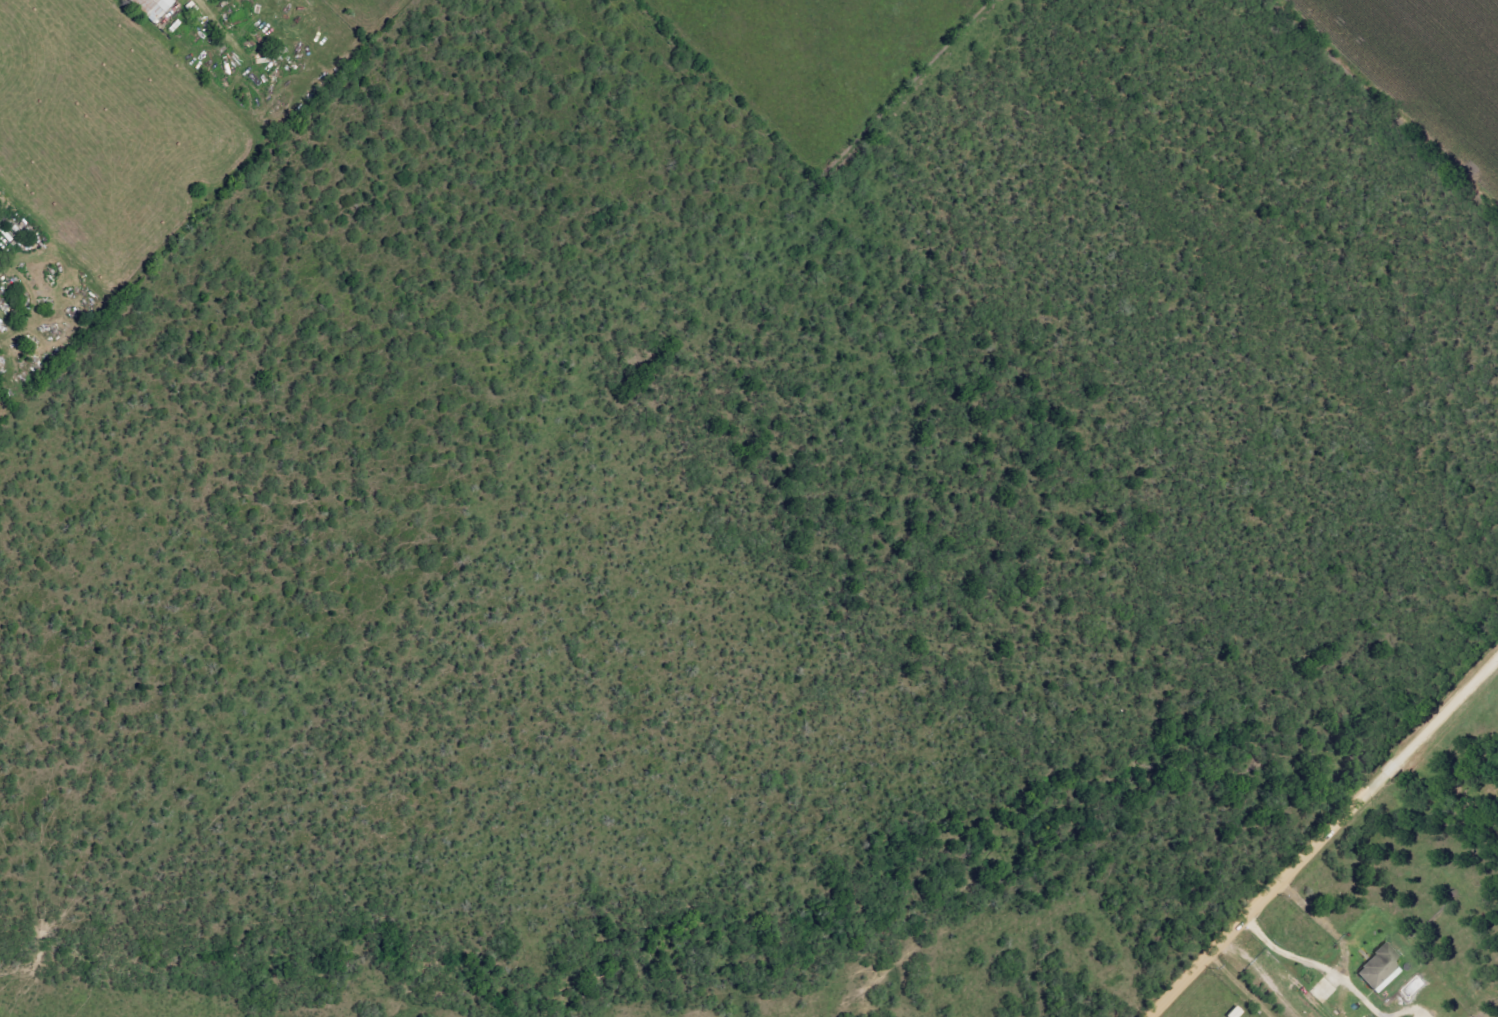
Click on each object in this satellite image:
building: (150, 7)
crop: (820, 58)
crop: (1428, 66)
road: (1322, 837)
building: (1379, 968)

